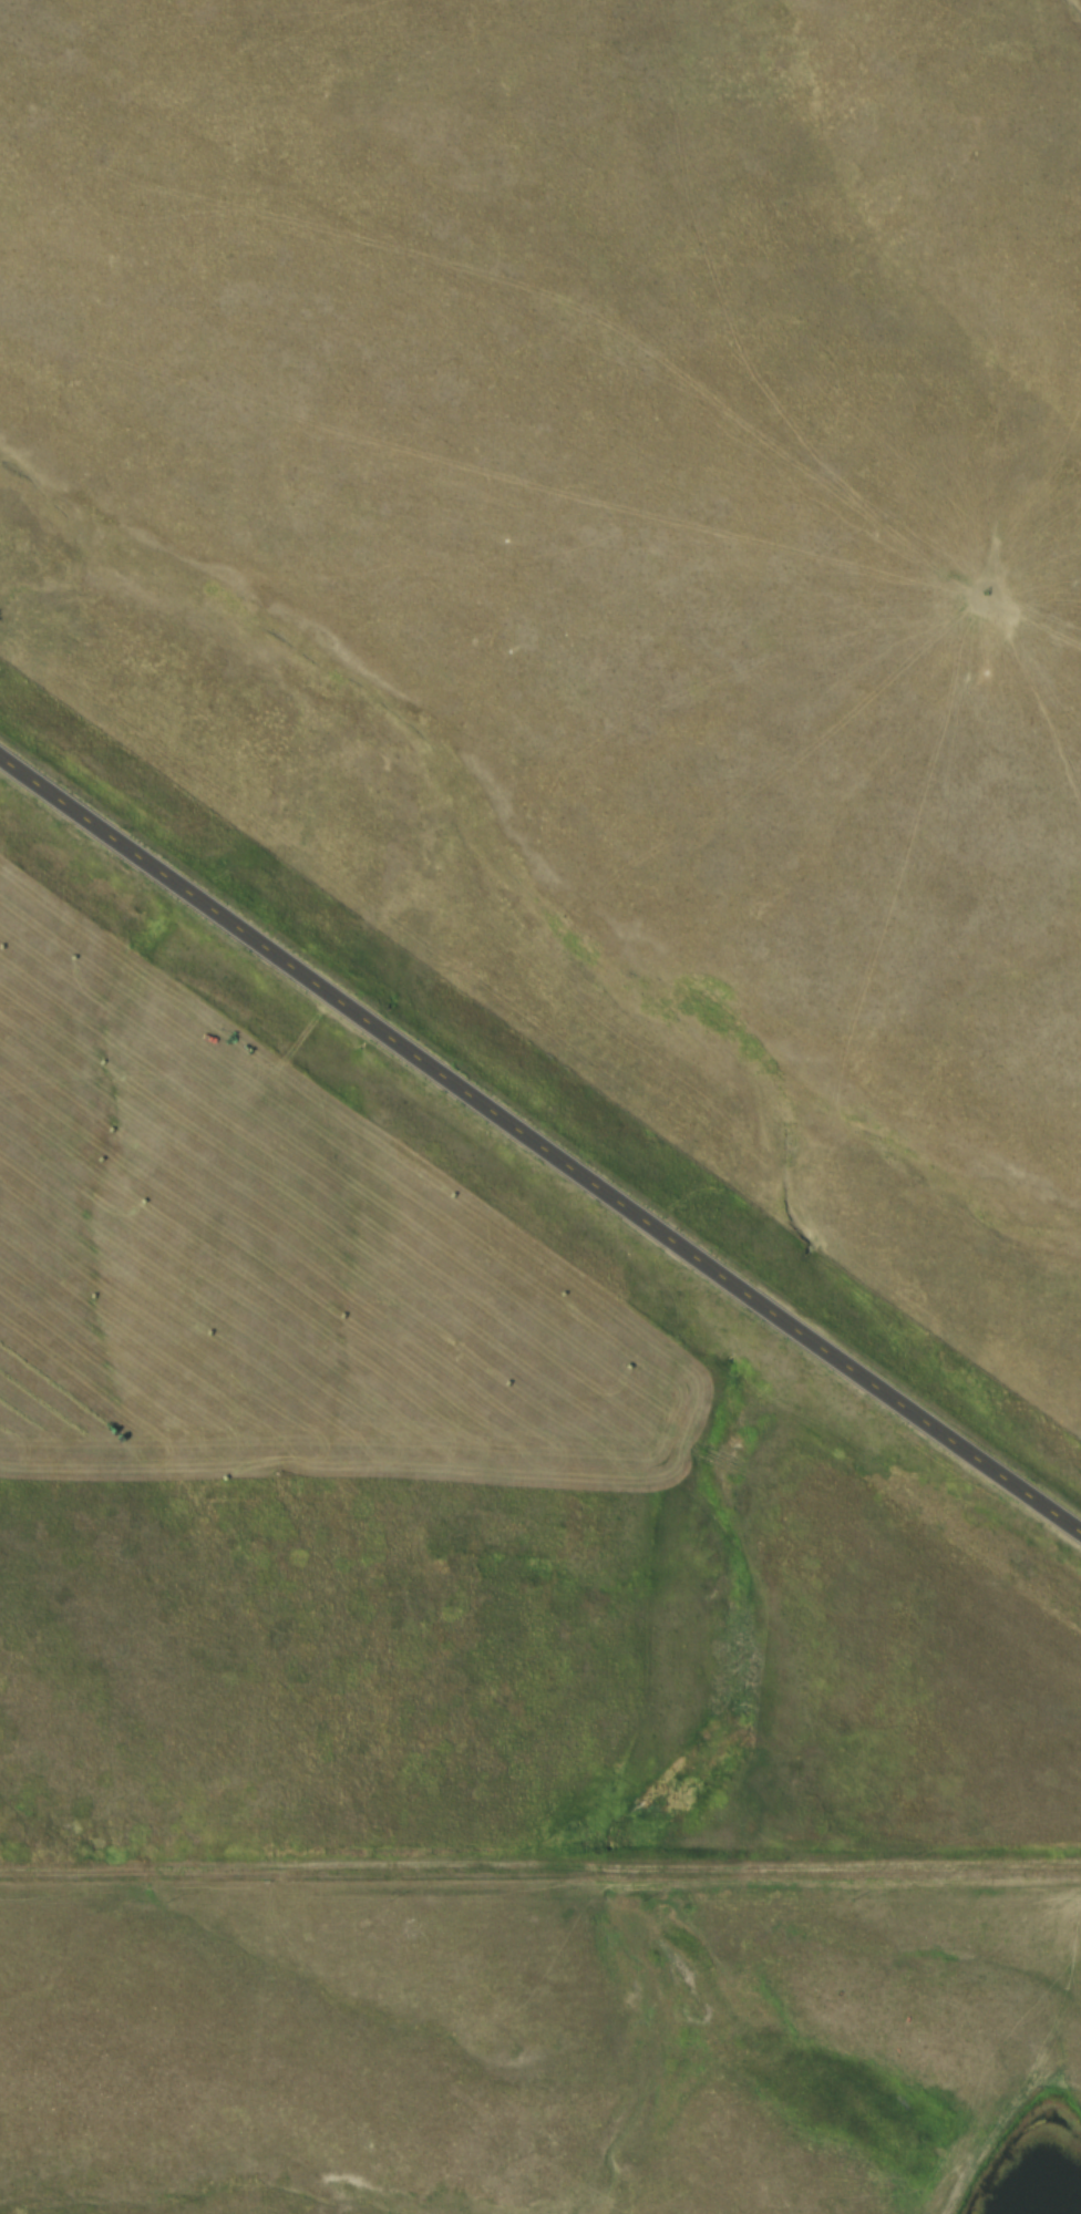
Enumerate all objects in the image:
road: (539, 1154)
road: (540, 1871)

